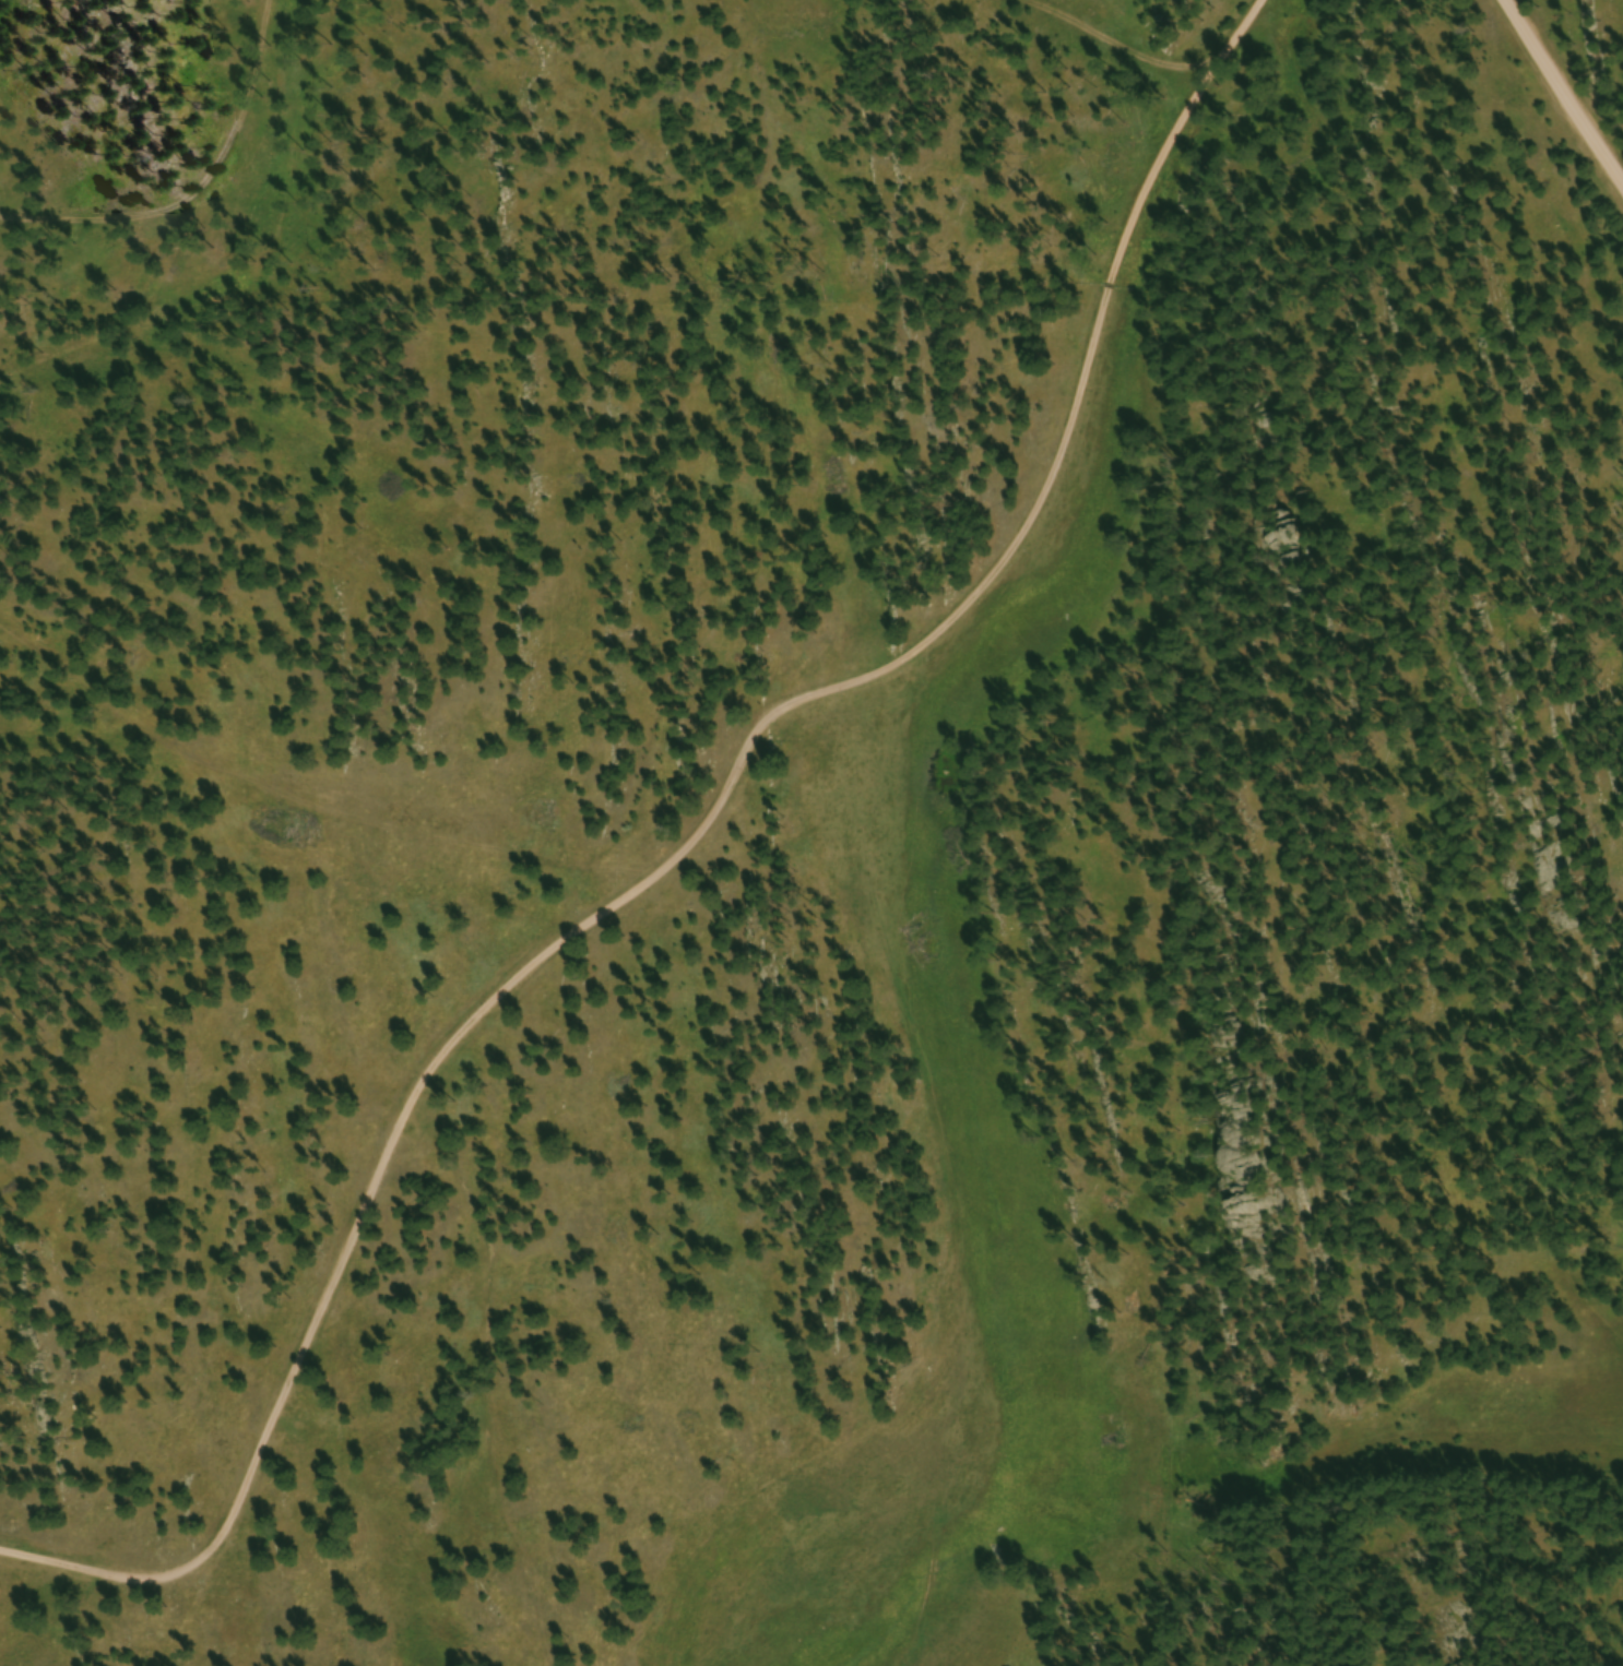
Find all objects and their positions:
road: (1561, 94)
road: (189, 185)
road: (672, 852)

